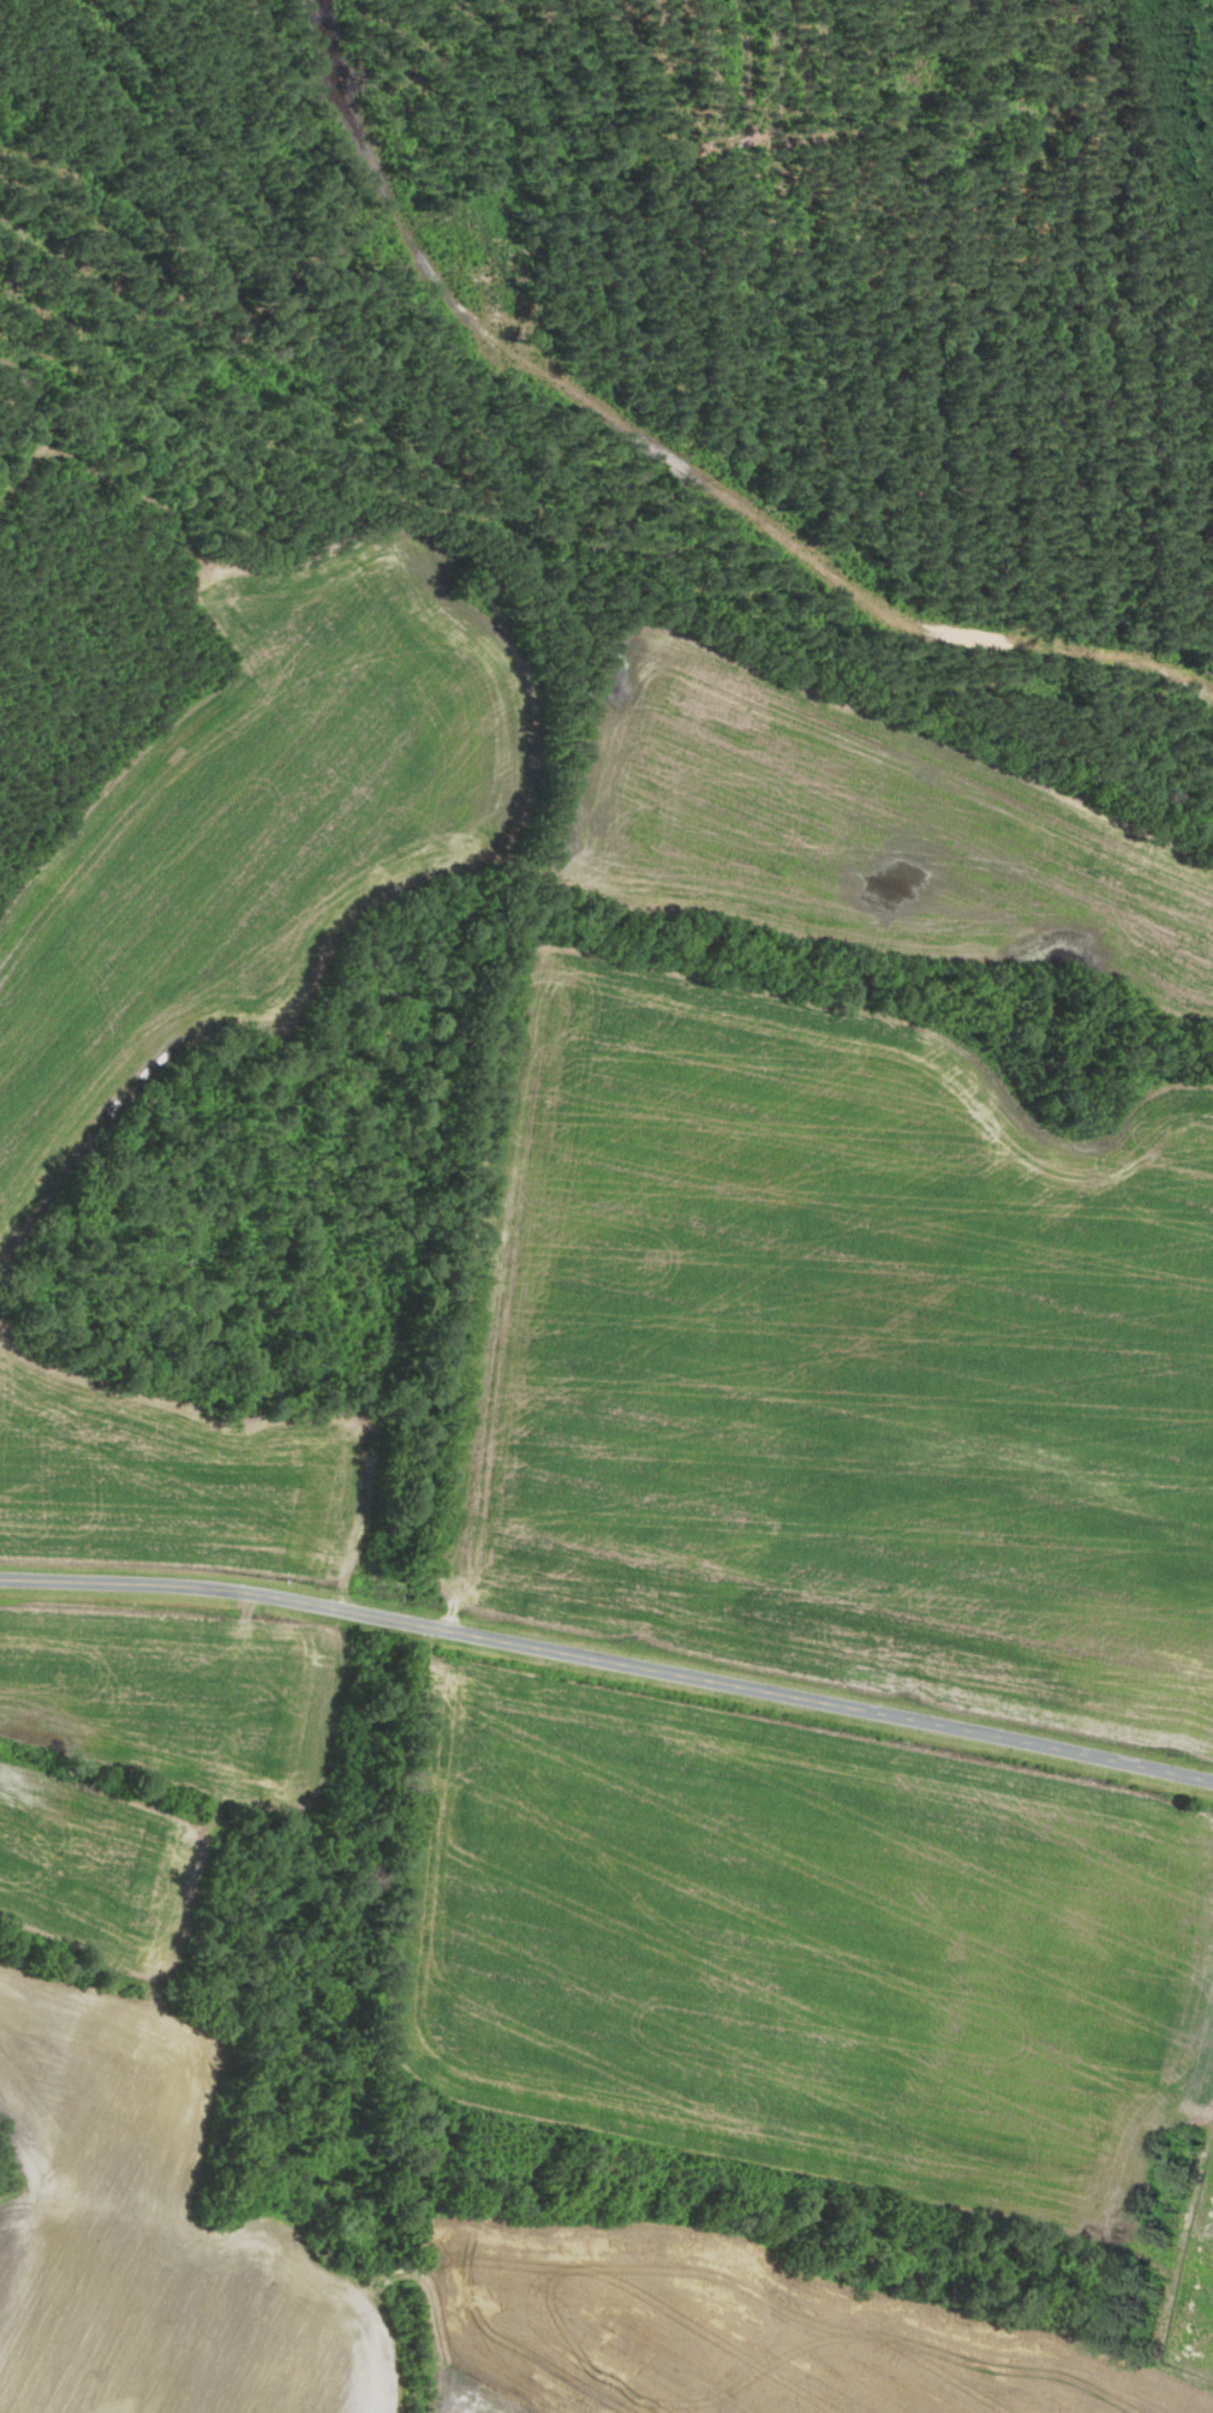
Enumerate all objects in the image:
road: (610, 1660)
road: (930, 1940)
road: (145, 1988)

